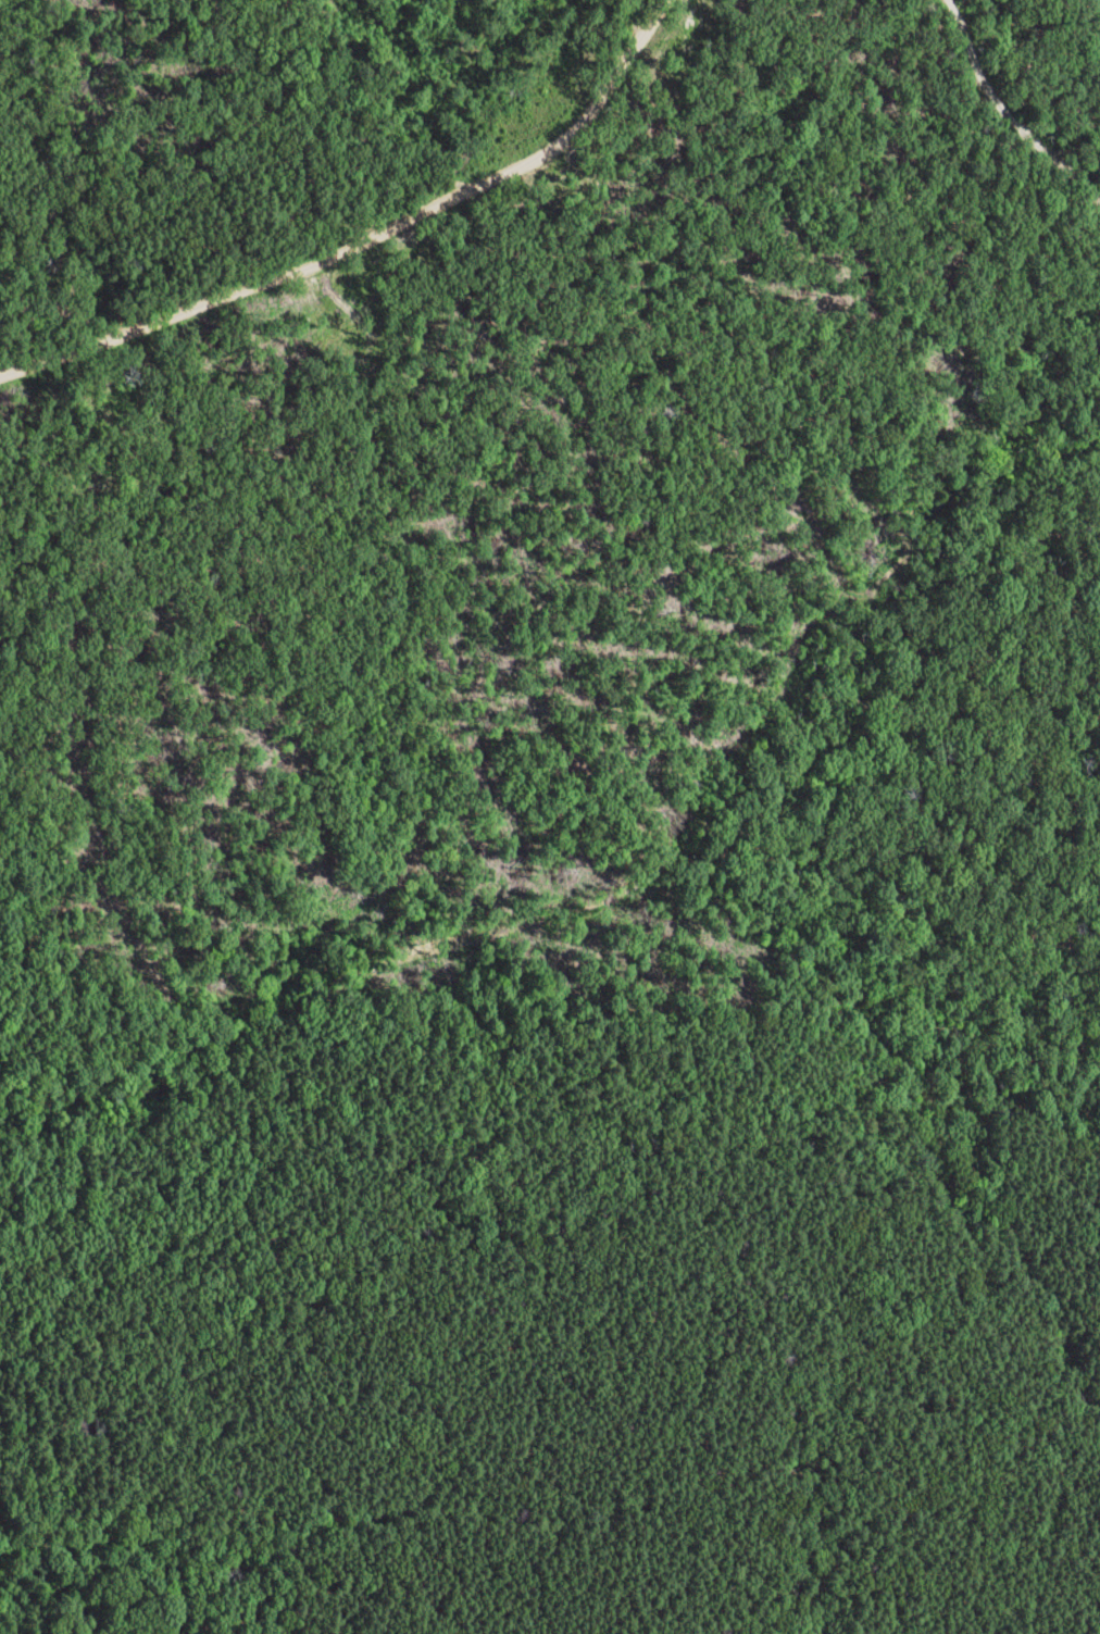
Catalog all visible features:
road: (370, 242)

